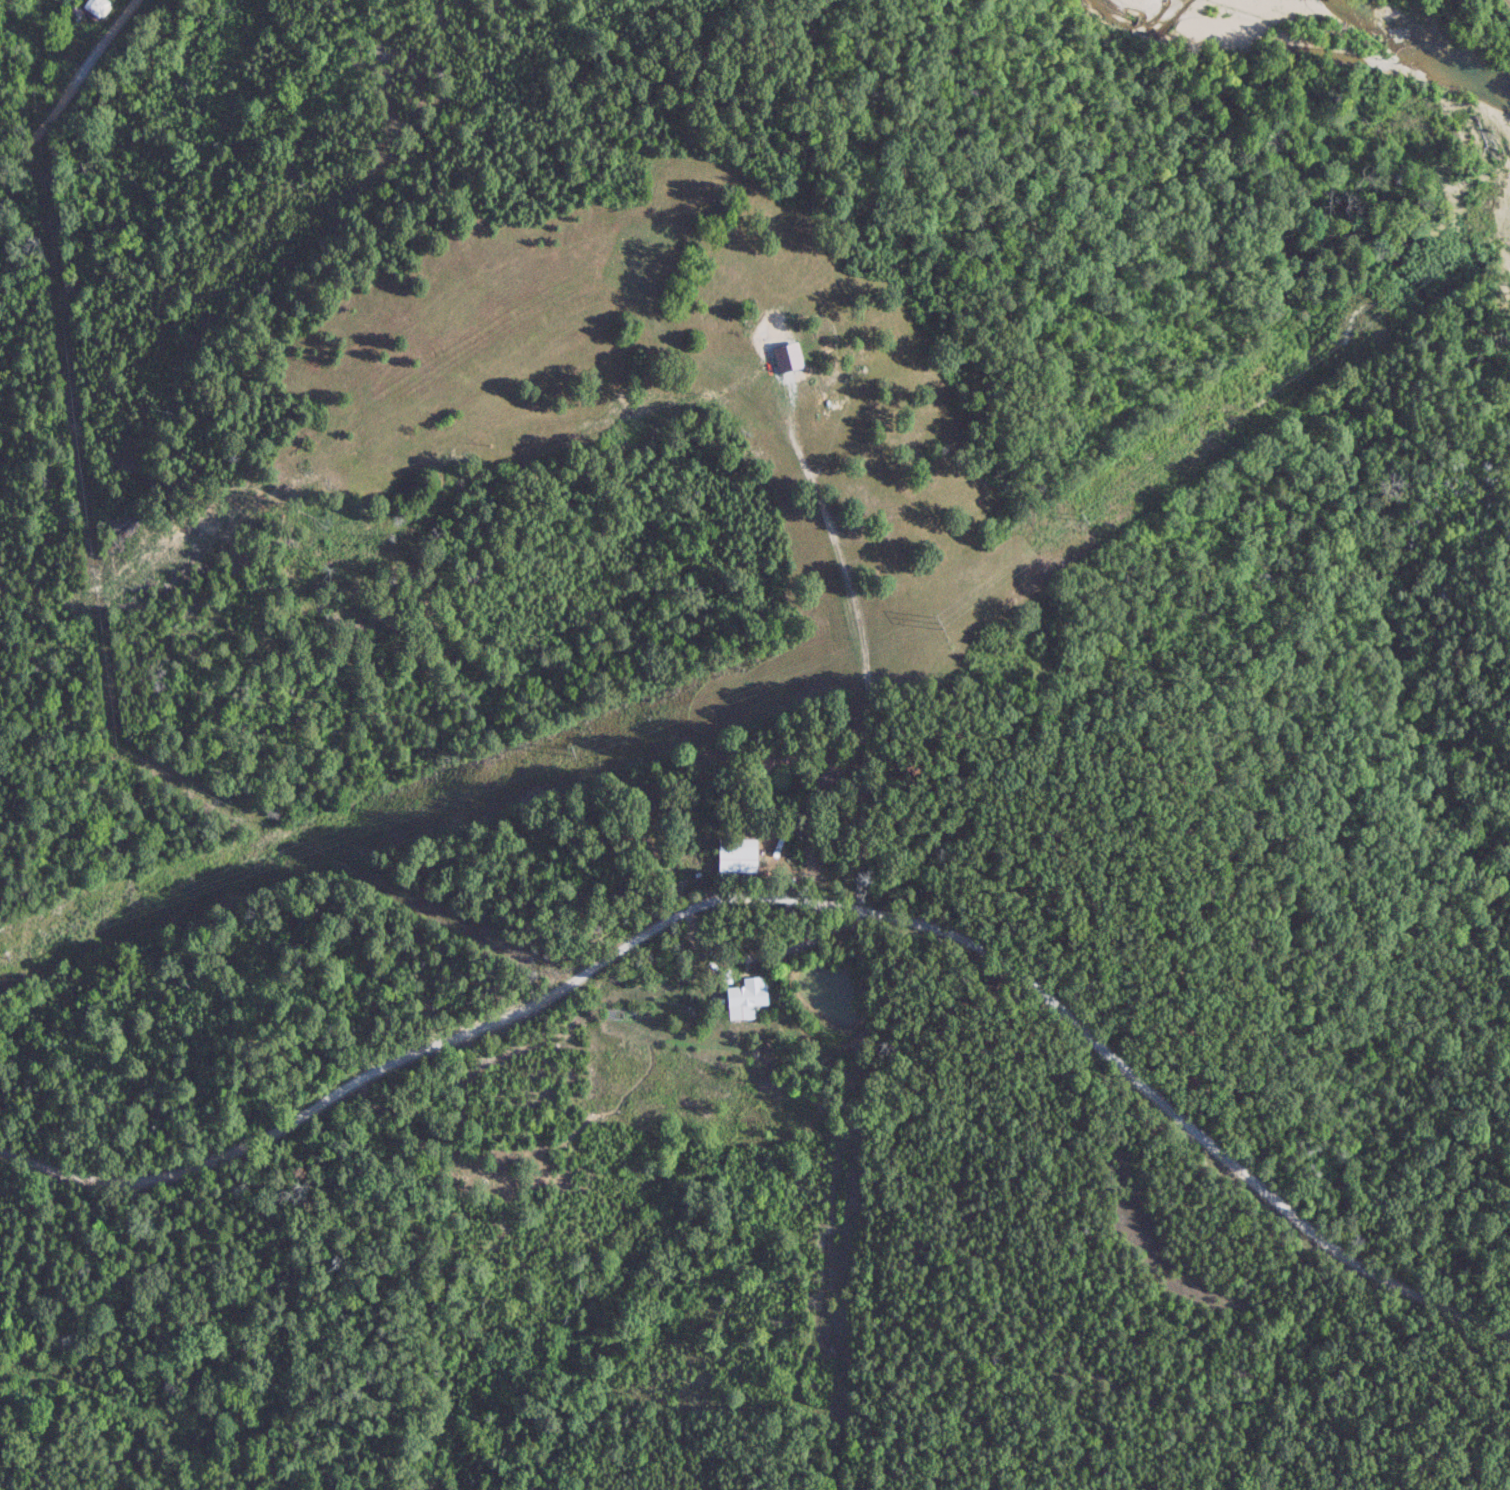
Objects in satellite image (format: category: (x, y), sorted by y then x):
building: (100, 7)
road: (53, 72)
road: (928, 834)
building: (741, 857)
road: (802, 934)
building: (747, 998)

